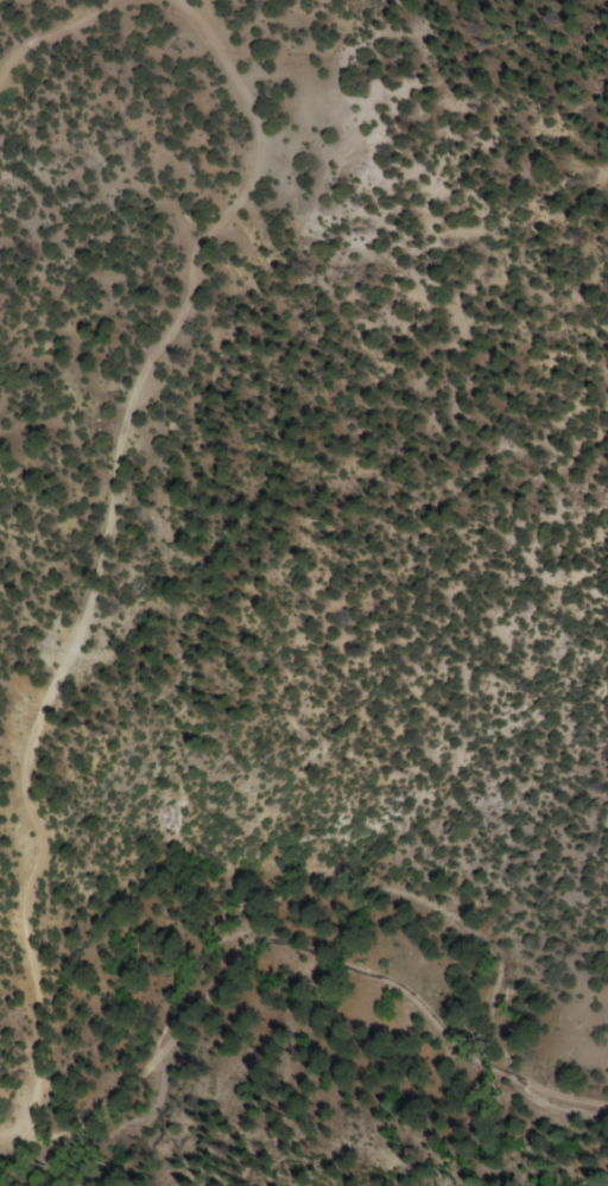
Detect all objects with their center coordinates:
road: (52, 34)
road: (27, 883)
road: (9, 1131)
road: (12, 1159)

